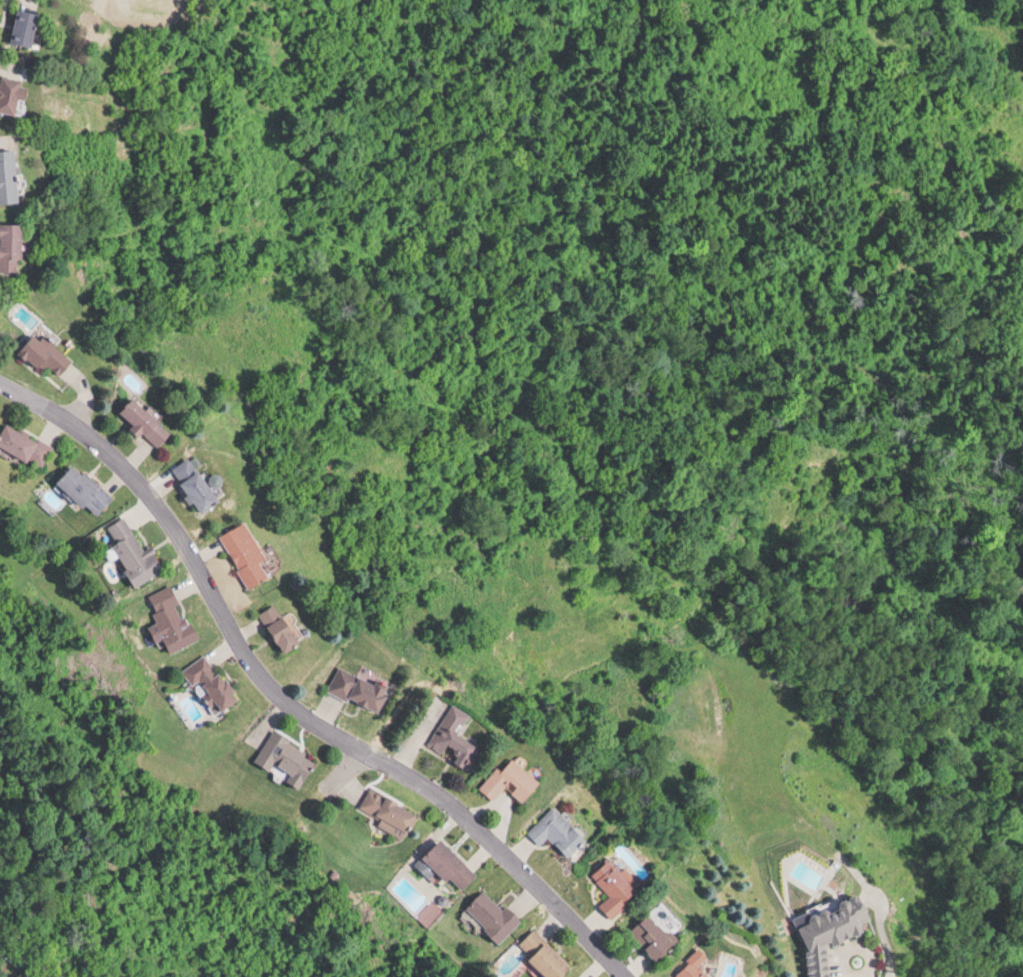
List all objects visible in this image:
building: (28, 24)
building: (15, 90)
building: (10, 175)
building: (15, 245)
building: (50, 353)
building: (150, 420)
building: (27, 443)
building: (200, 482)
building: (87, 487)
building: (136, 551)
building: (250, 551)
building: (174, 618)
building: (284, 625)
building: (214, 678)
building: (362, 686)
road: (288, 698)
building: (457, 736)
building: (291, 757)
building: (514, 780)
building: (392, 811)
building: (560, 830)
building: (450, 863)
building: (617, 887)
building: (497, 914)
building: (835, 928)
building: (657, 935)
building: (547, 954)
building: (697, 965)

